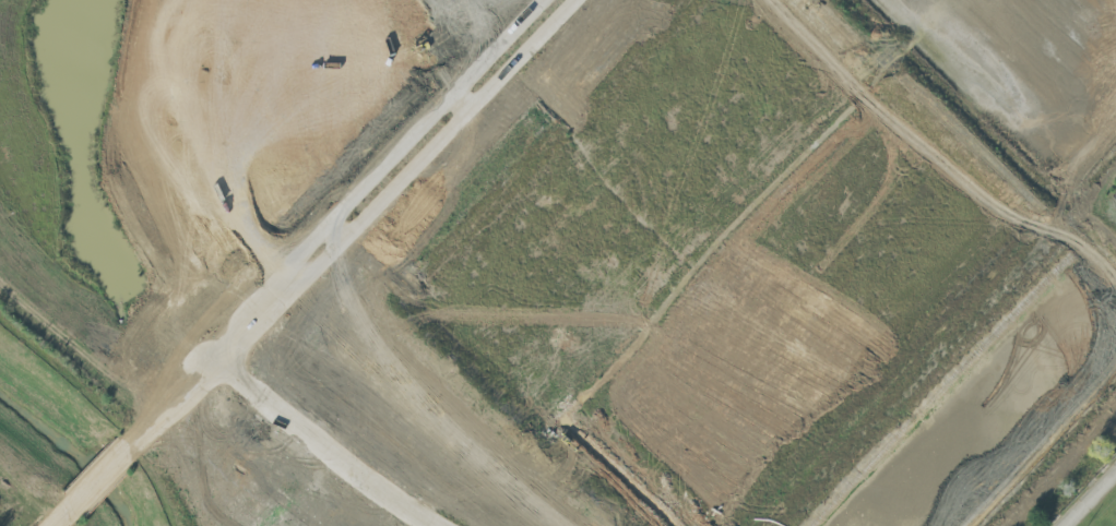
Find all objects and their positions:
road: (385, 179)
road: (167, 405)
road: (320, 444)
road: (96, 483)
road: (1089, 498)
road: (60, 521)

